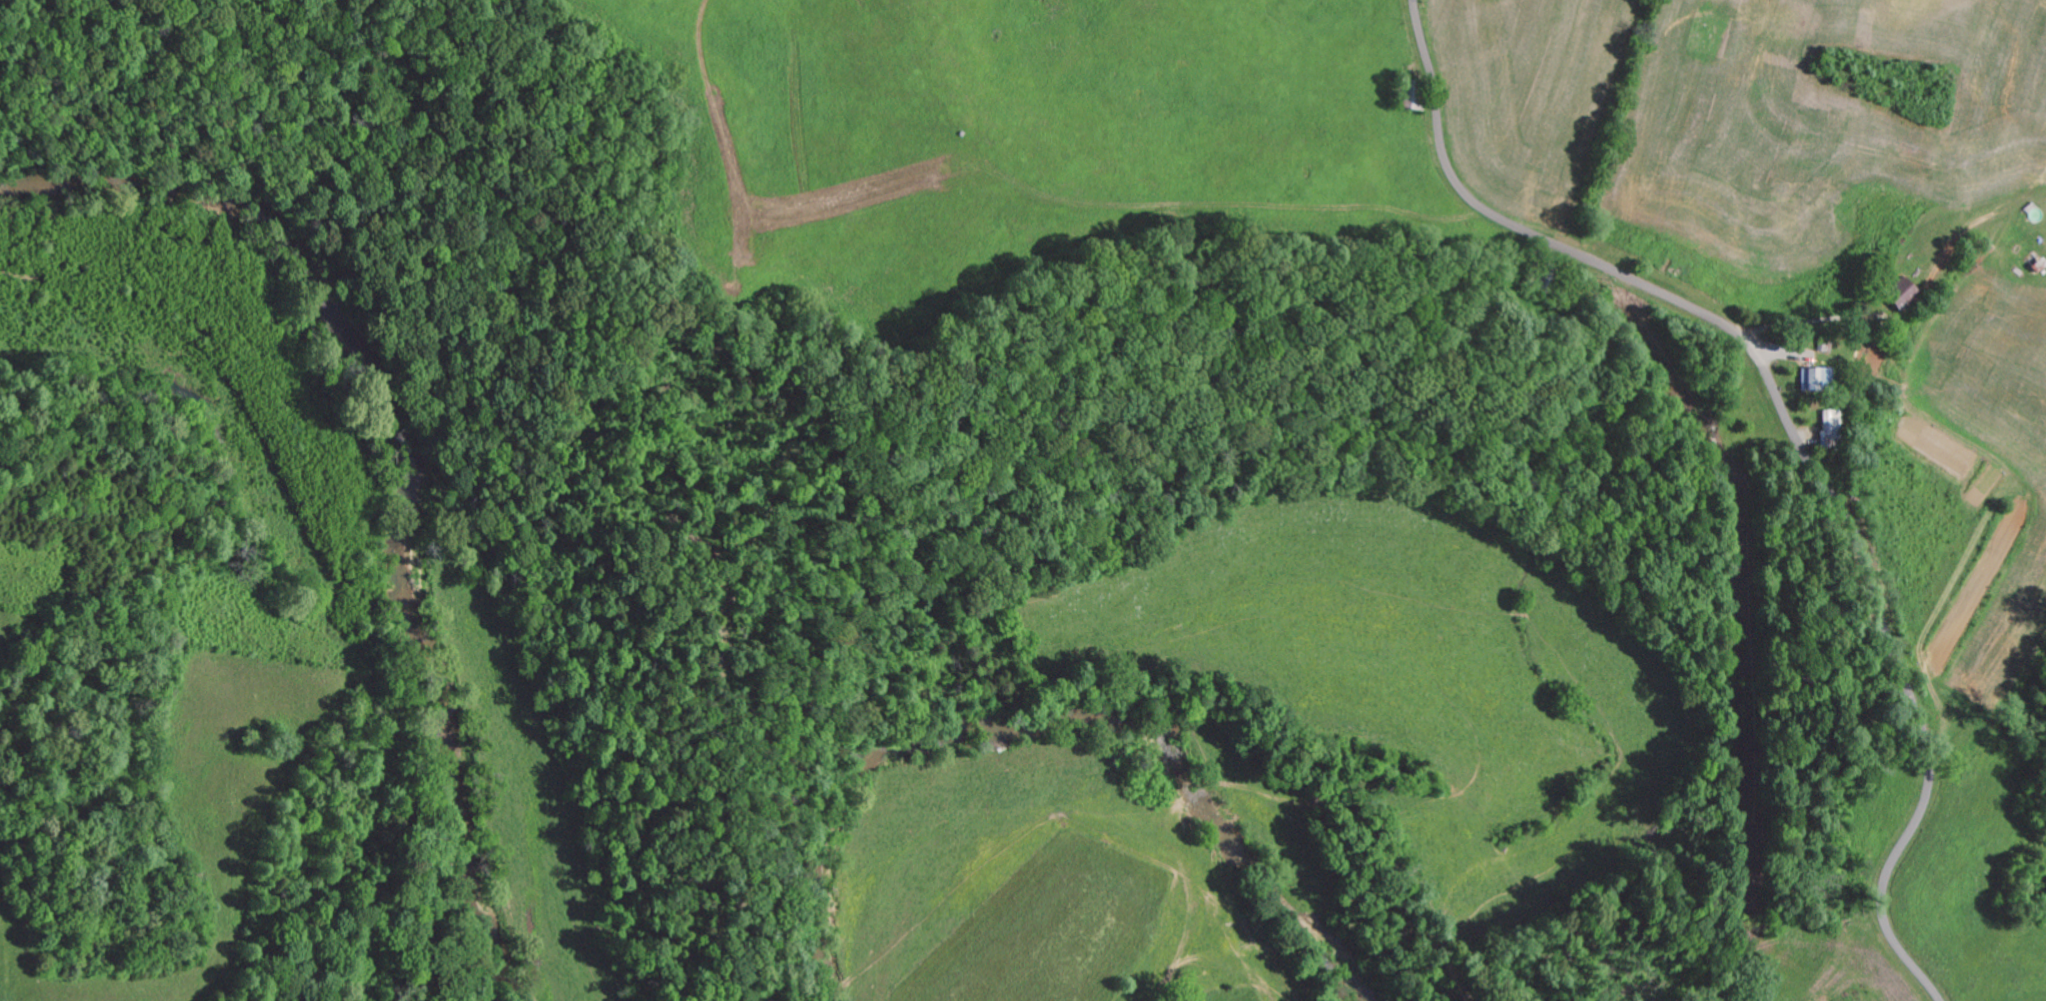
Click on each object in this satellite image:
building: (1904, 292)
building: (1818, 377)
building: (1832, 426)
road: (1794, 435)

